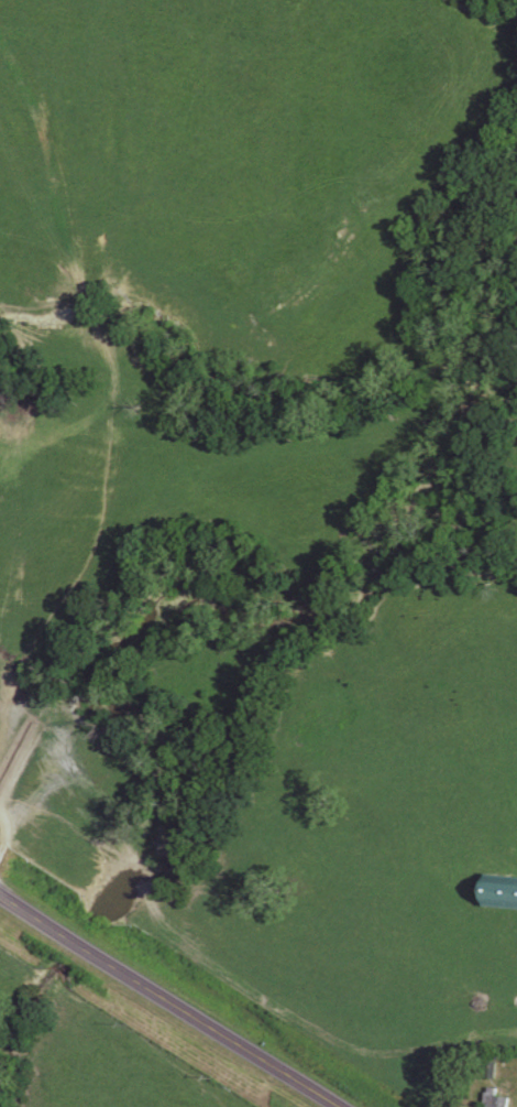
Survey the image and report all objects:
building: (501, 891)
road: (165, 1002)
building: (497, 1103)

